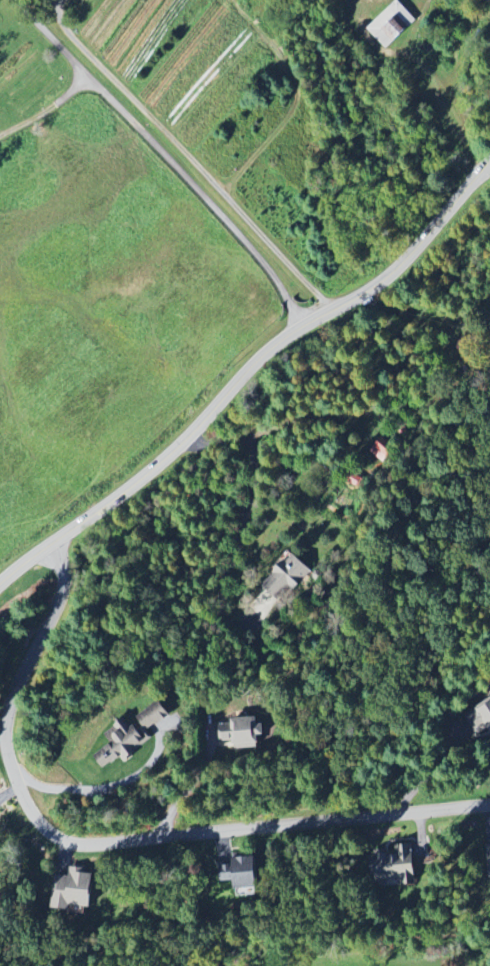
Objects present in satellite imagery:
building: (392, 24)
road: (186, 157)
road: (158, 162)
road: (243, 371)
building: (381, 452)
road: (241, 526)
building: (289, 576)
building: (479, 720)
building: (246, 732)
building: (136, 733)
road: (193, 780)
road: (109, 840)
building: (489, 857)
building: (398, 866)
building: (249, 871)
building: (74, 889)

